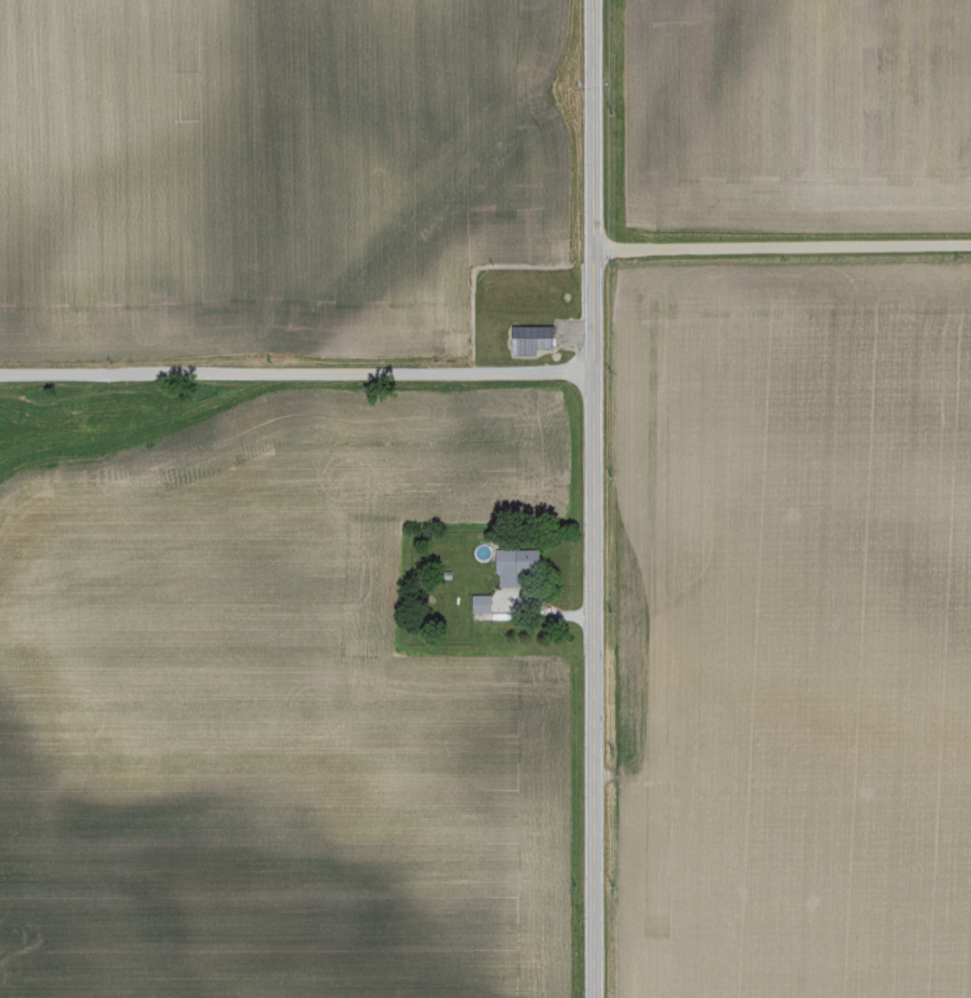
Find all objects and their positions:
road: (591, 184)
road: (781, 246)
building: (543, 341)
road: (296, 371)
building: (487, 607)
road: (547, 608)
road: (597, 683)

